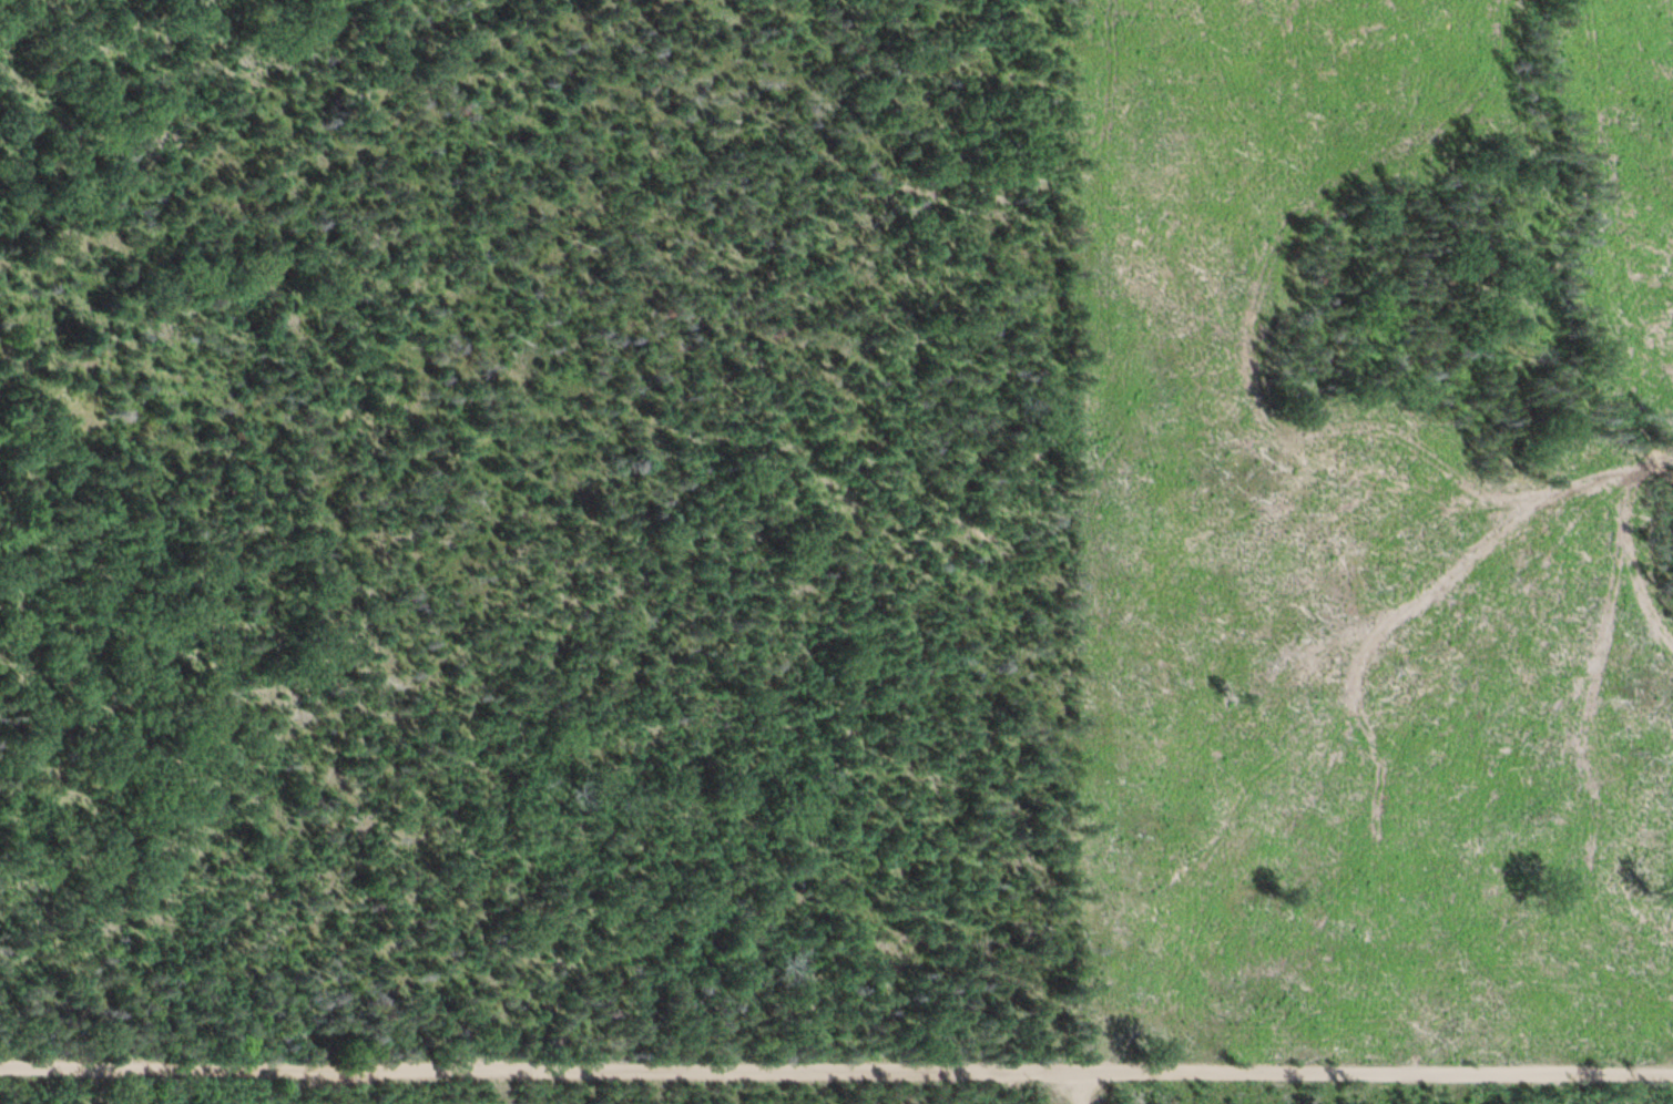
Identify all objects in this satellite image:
road: (1564, 285)
road: (836, 1076)
road: (84, 1090)
road: (1082, 1091)

